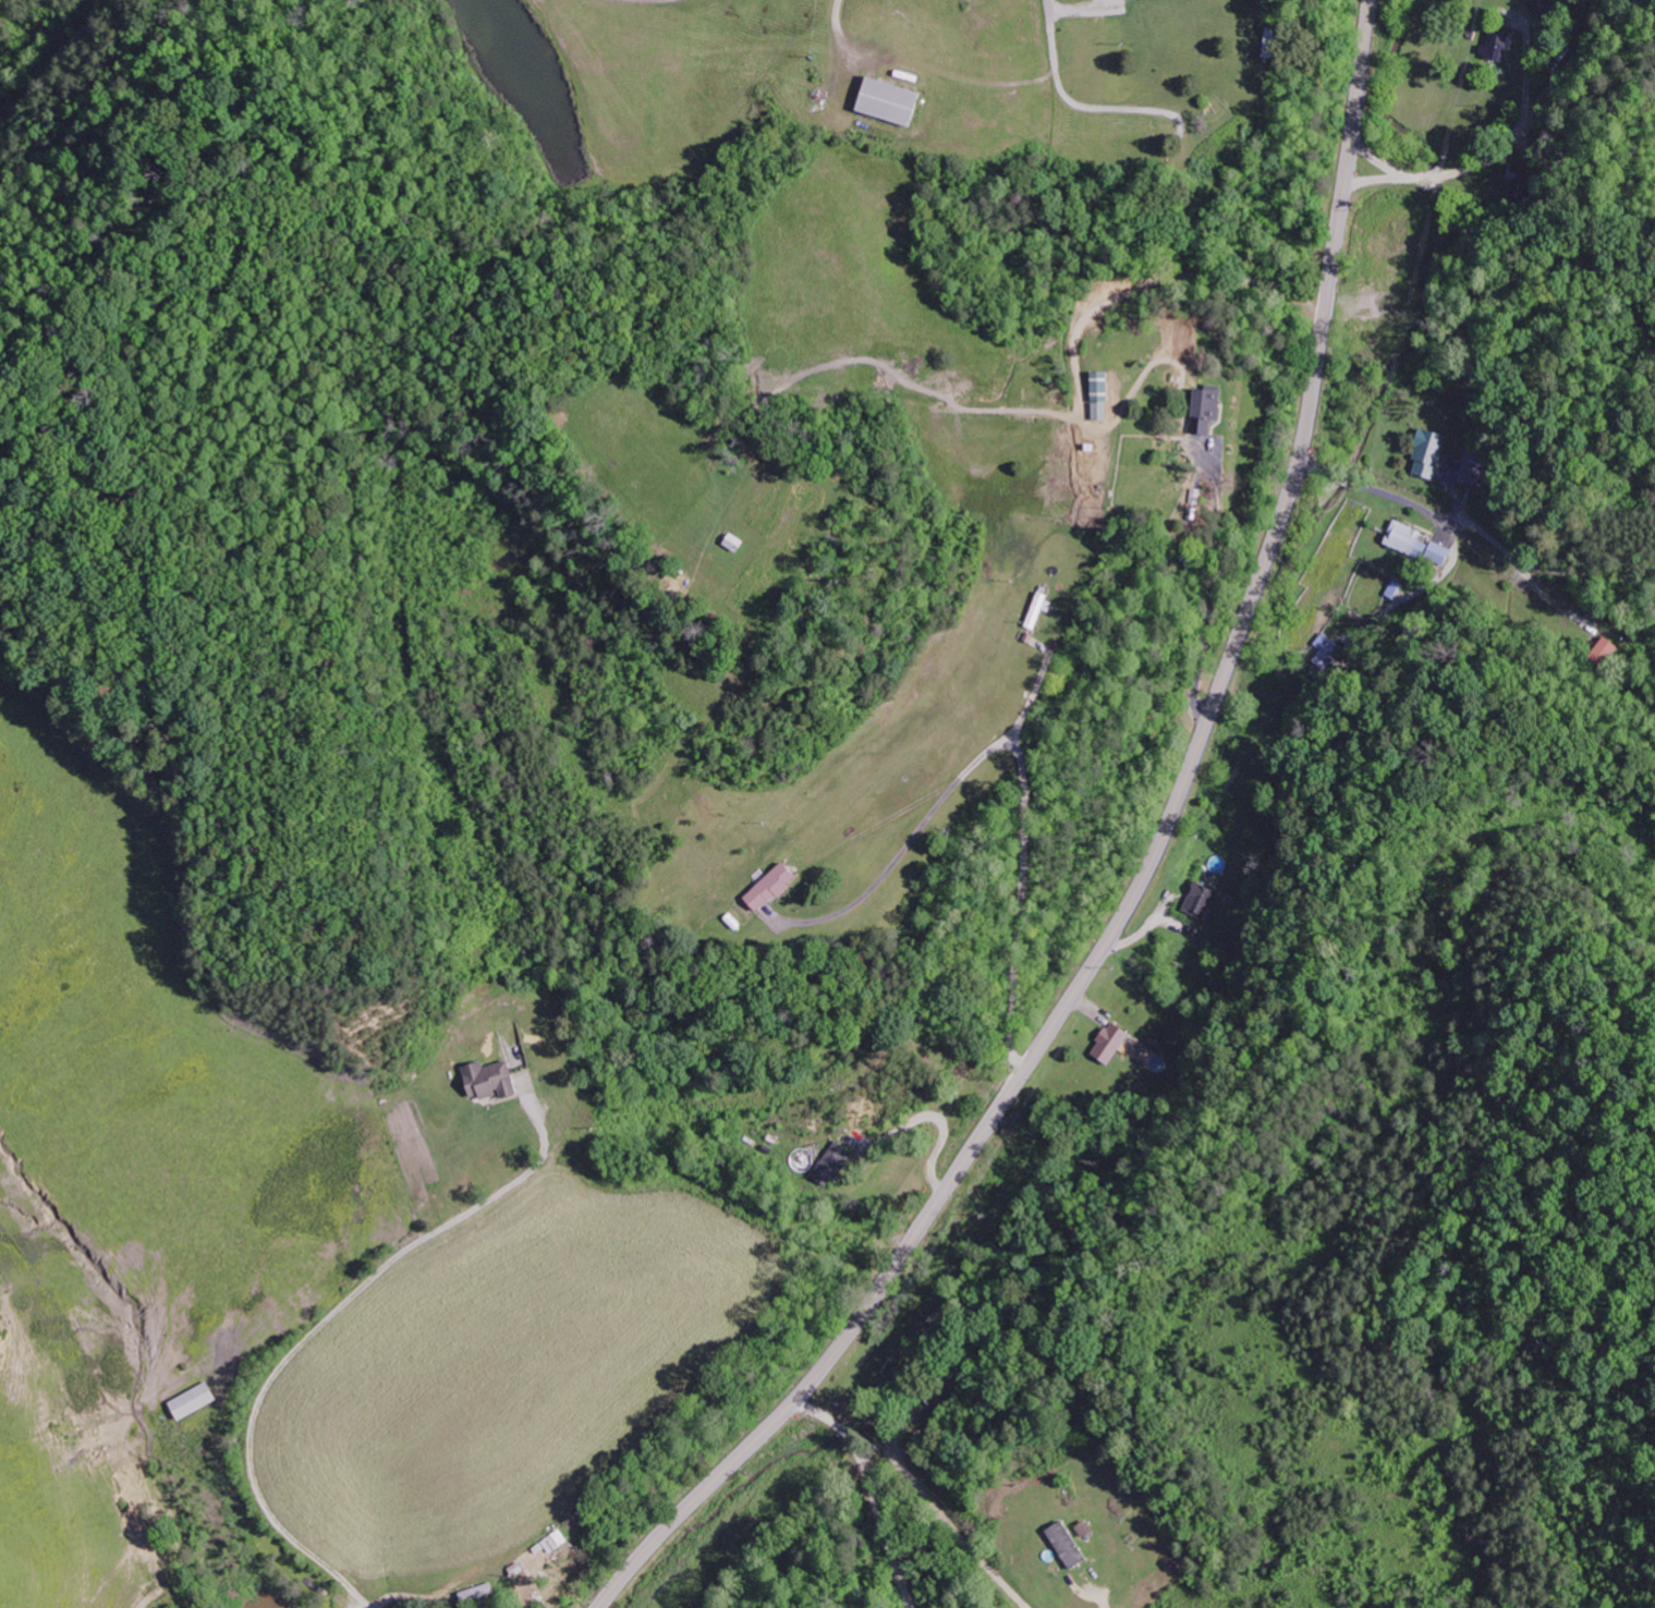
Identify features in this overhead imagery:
building: (1495, 45)
building: (883, 101)
road: (1169, 285)
building: (1104, 394)
building: (1207, 407)
building: (1432, 453)
building: (1410, 538)
building: (1326, 649)
road: (1144, 878)
building: (778, 887)
building: (1203, 900)
building: (1115, 1041)
building: (495, 1080)
building: (836, 1162)
building: (198, 1401)
building: (559, 1542)
building: (1071, 1545)
building: (482, 1593)

